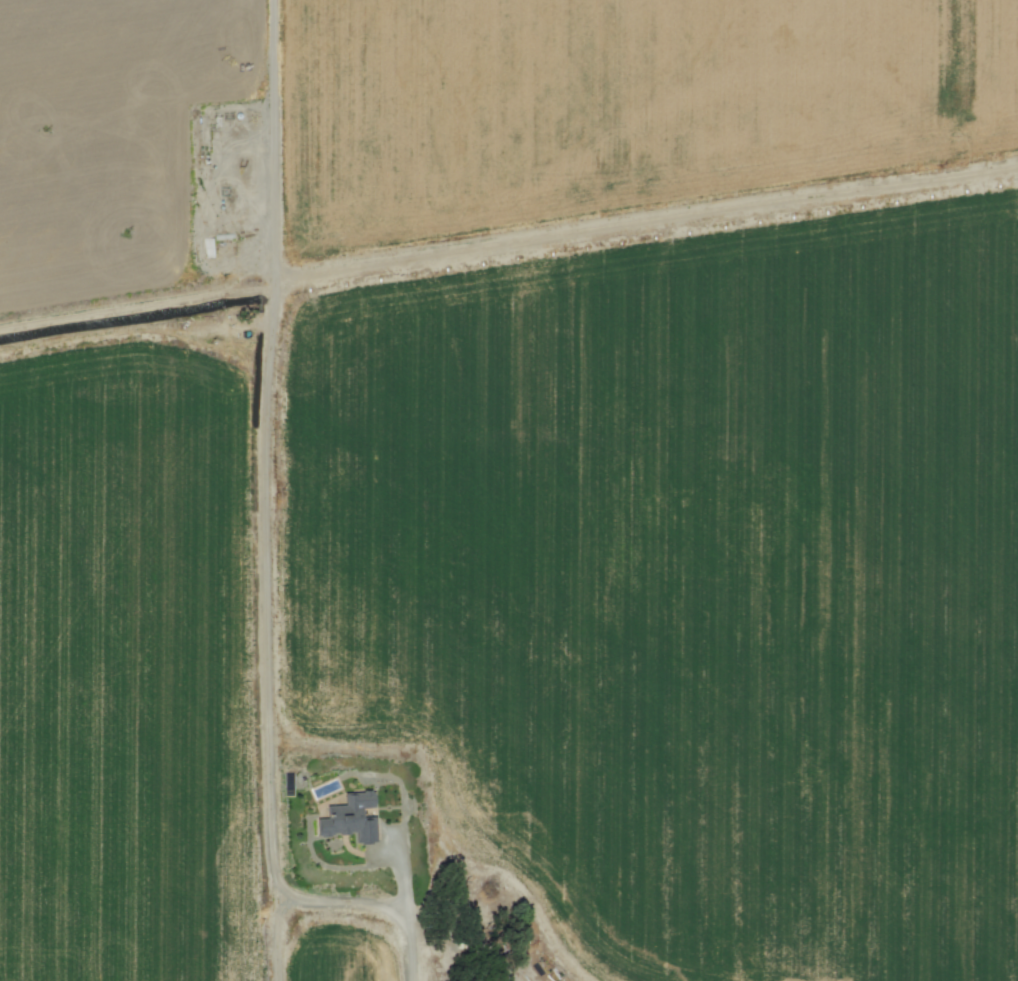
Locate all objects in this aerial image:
road: (271, 142)
road: (266, 544)
road: (278, 935)

